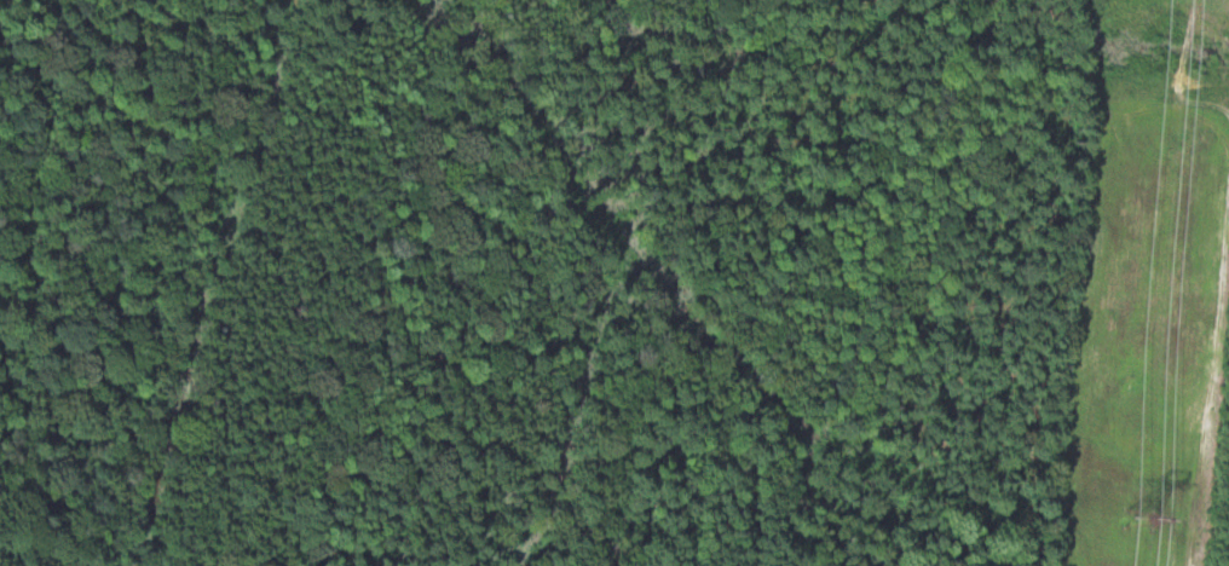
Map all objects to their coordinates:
power tower: (1136, 522)

